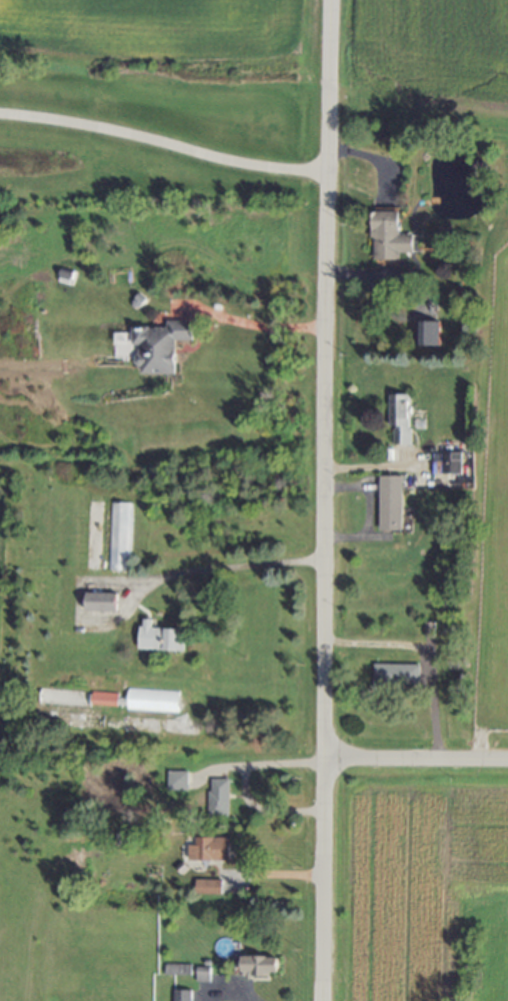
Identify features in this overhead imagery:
crop: (150, 28)
crop: (429, 54)
road: (165, 146)
building: (388, 236)
road: (250, 325)
building: (427, 333)
building: (159, 346)
building: (399, 418)
building: (447, 463)
road: (323, 500)
building: (390, 503)
building: (119, 536)
road: (138, 596)
building: (100, 602)
building: (159, 638)
road: (423, 656)
building: (396, 675)
building: (104, 699)
building: (151, 700)
building: (140, 725)
road: (415, 760)
road: (263, 764)
building: (177, 781)
building: (218, 797)
building: (208, 849)
road: (273, 875)
crop: (416, 883)
building: (207, 887)
building: (260, 965)
building: (176, 969)
building: (202, 976)
road: (226, 993)
building: (181, 995)

